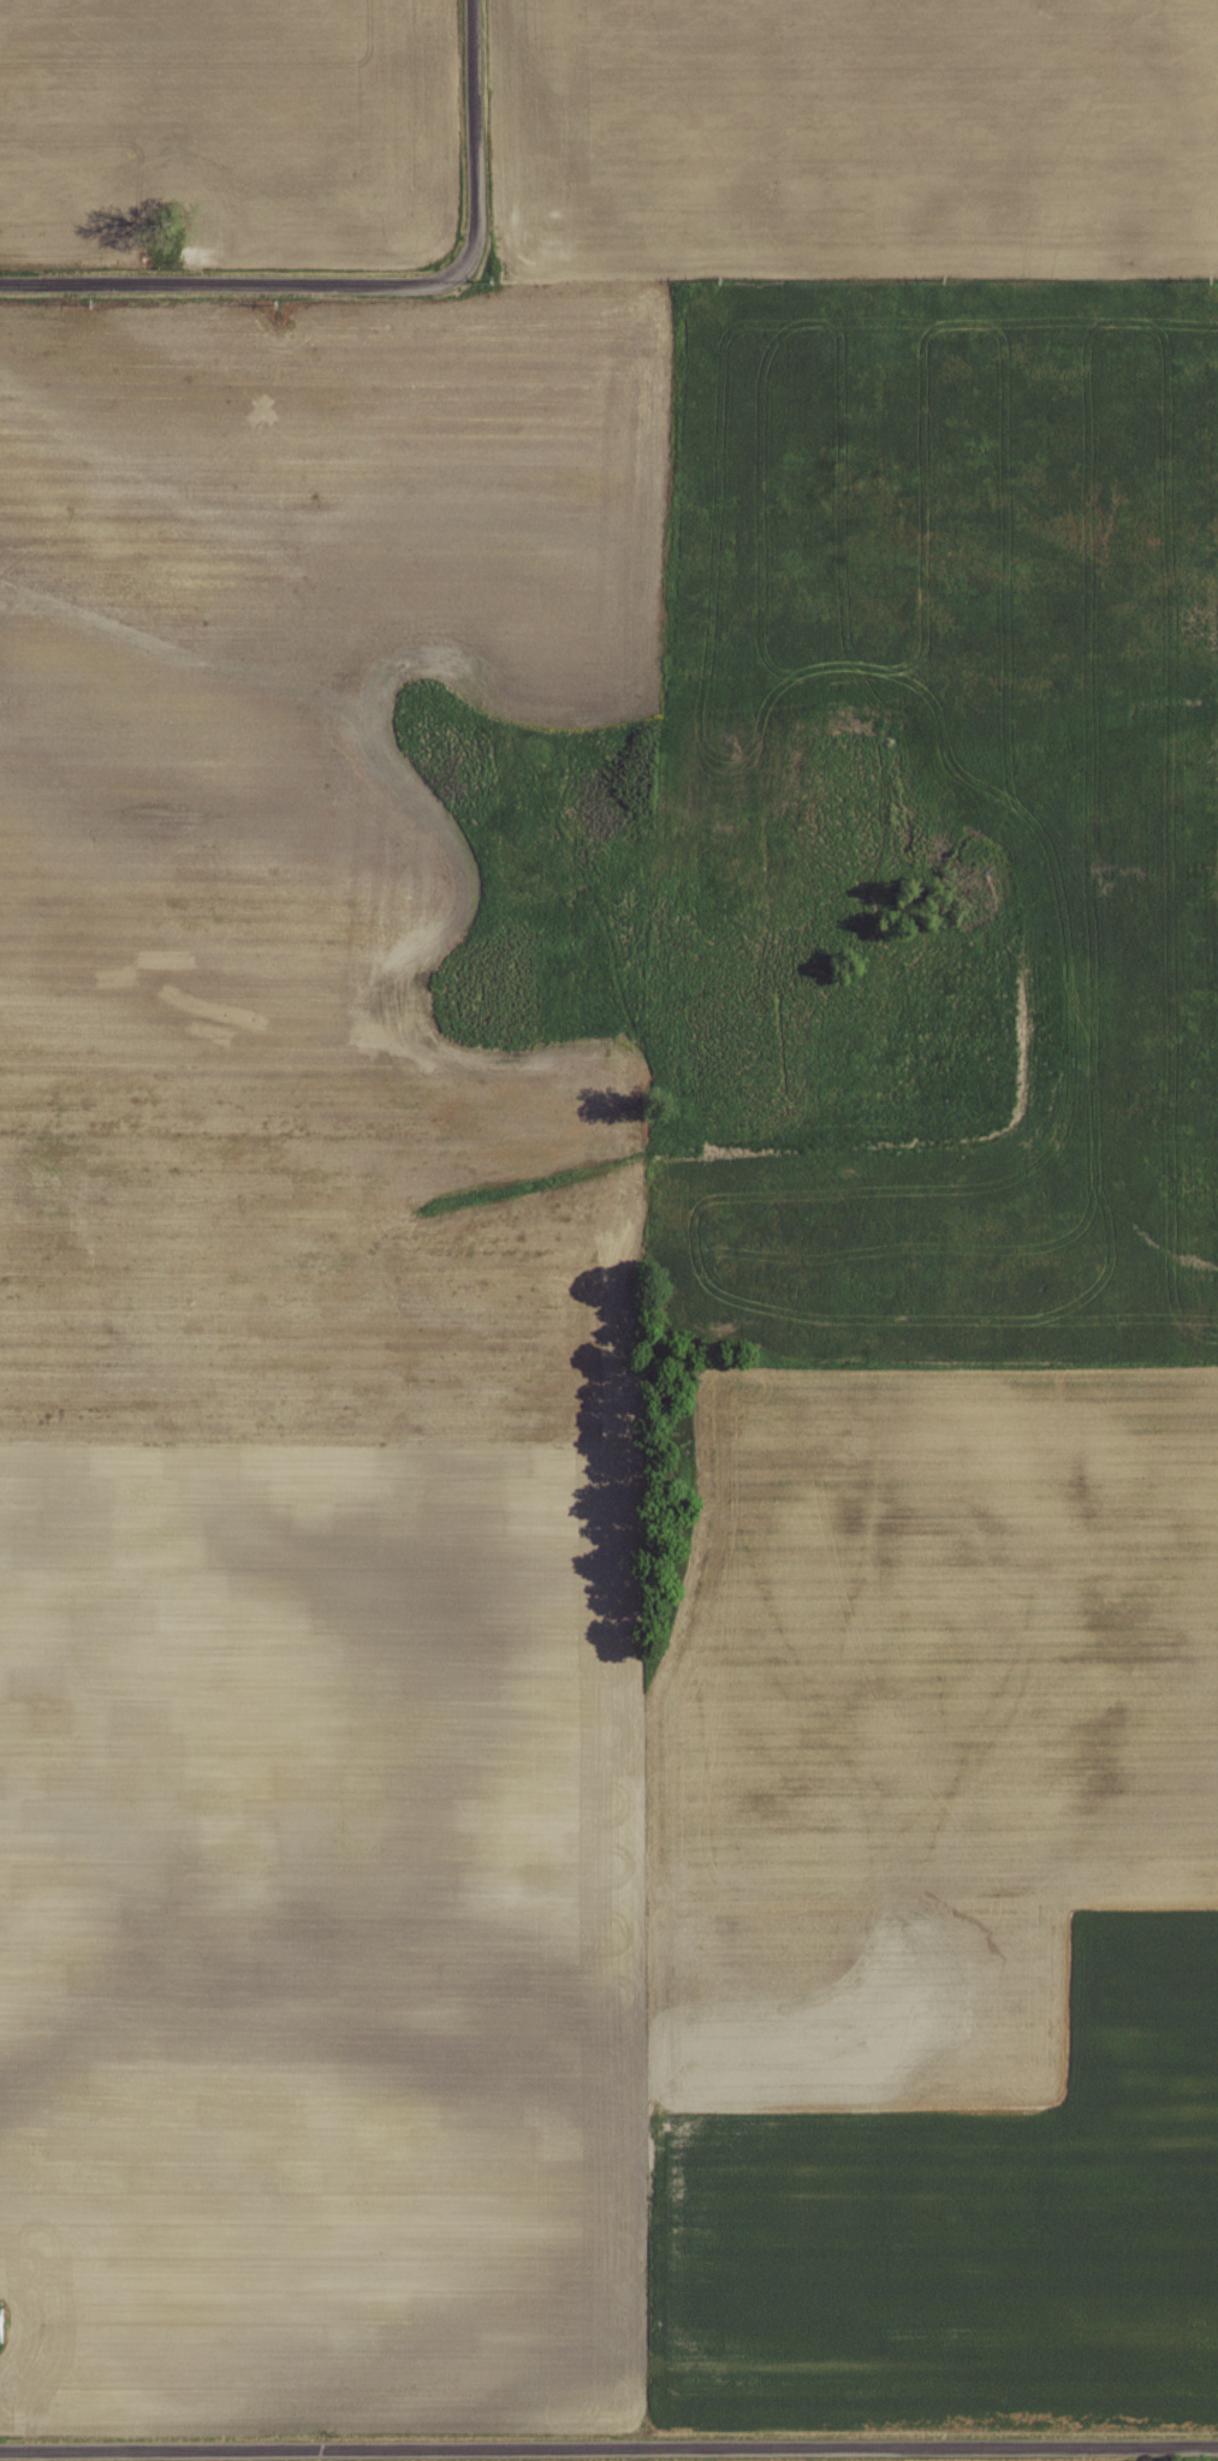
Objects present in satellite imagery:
crop: (222, 127)
crop: (863, 137)
road: (369, 286)
crop: (1217, 486)
crop: (1127, 822)
crop: (310, 1379)
crop: (935, 1903)
road: (608, 2450)

